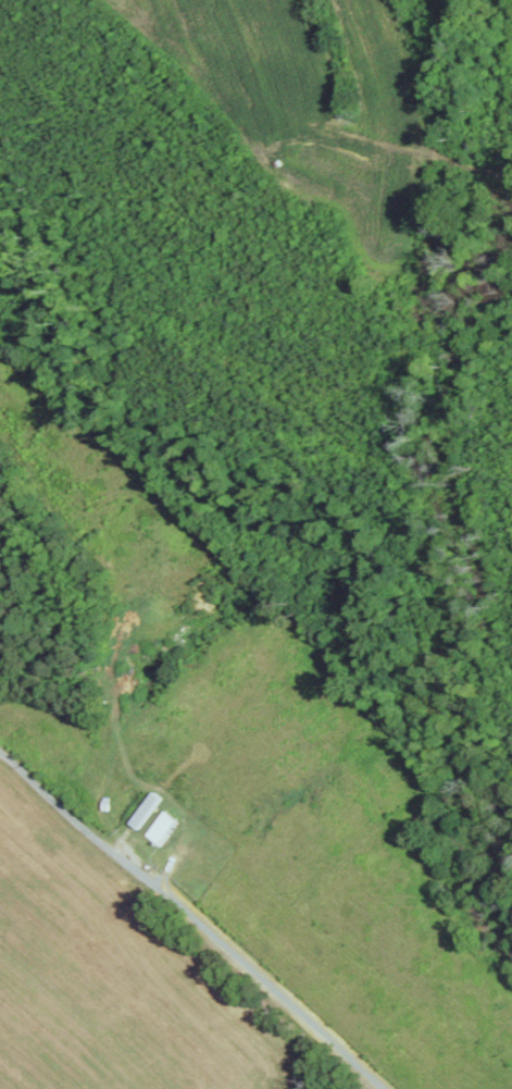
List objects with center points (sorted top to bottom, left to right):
building: (147, 809)
building: (163, 828)
road: (188, 919)

